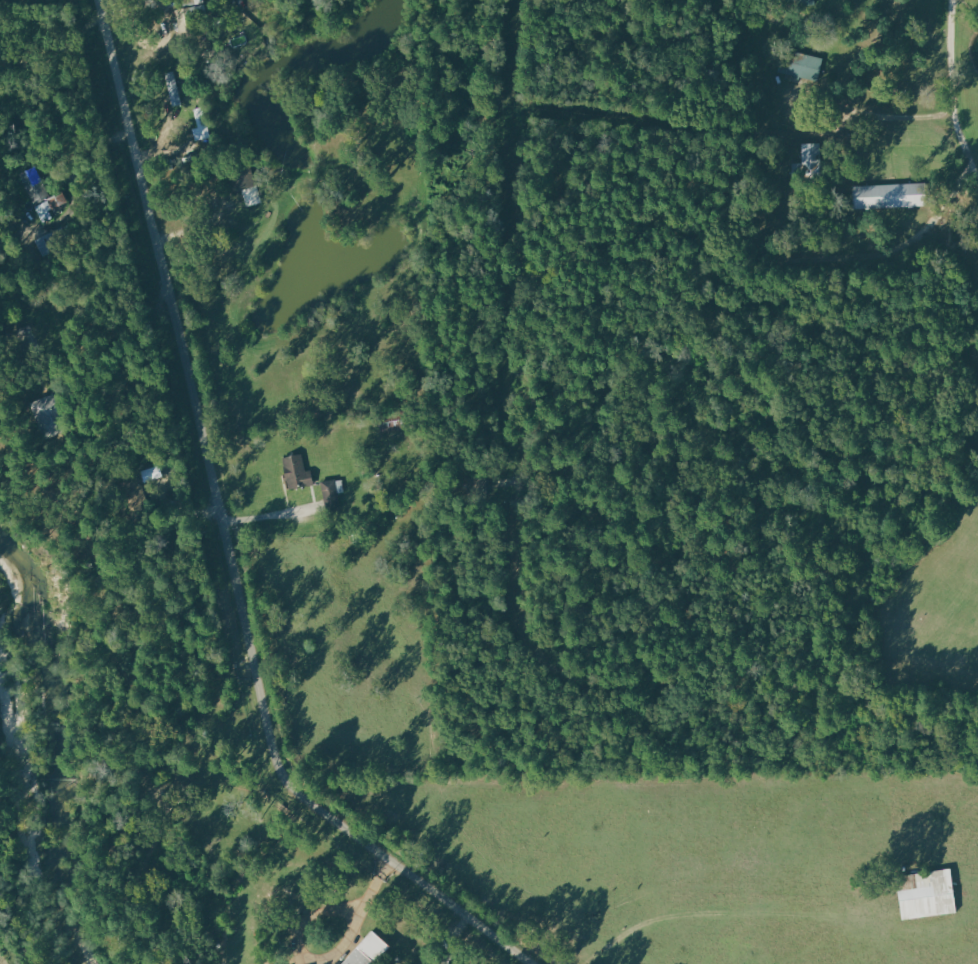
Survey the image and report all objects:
road: (60, 49)
road: (4, 59)
road: (4, 62)
building: (801, 67)
building: (173, 88)
road: (954, 94)
road: (876, 119)
building: (809, 161)
road: (69, 173)
building: (41, 194)
building: (888, 196)
road: (135, 339)
building: (295, 471)
road: (271, 515)
road: (225, 539)
river: (61, 746)
building: (925, 894)
road: (355, 924)
building: (366, 951)

